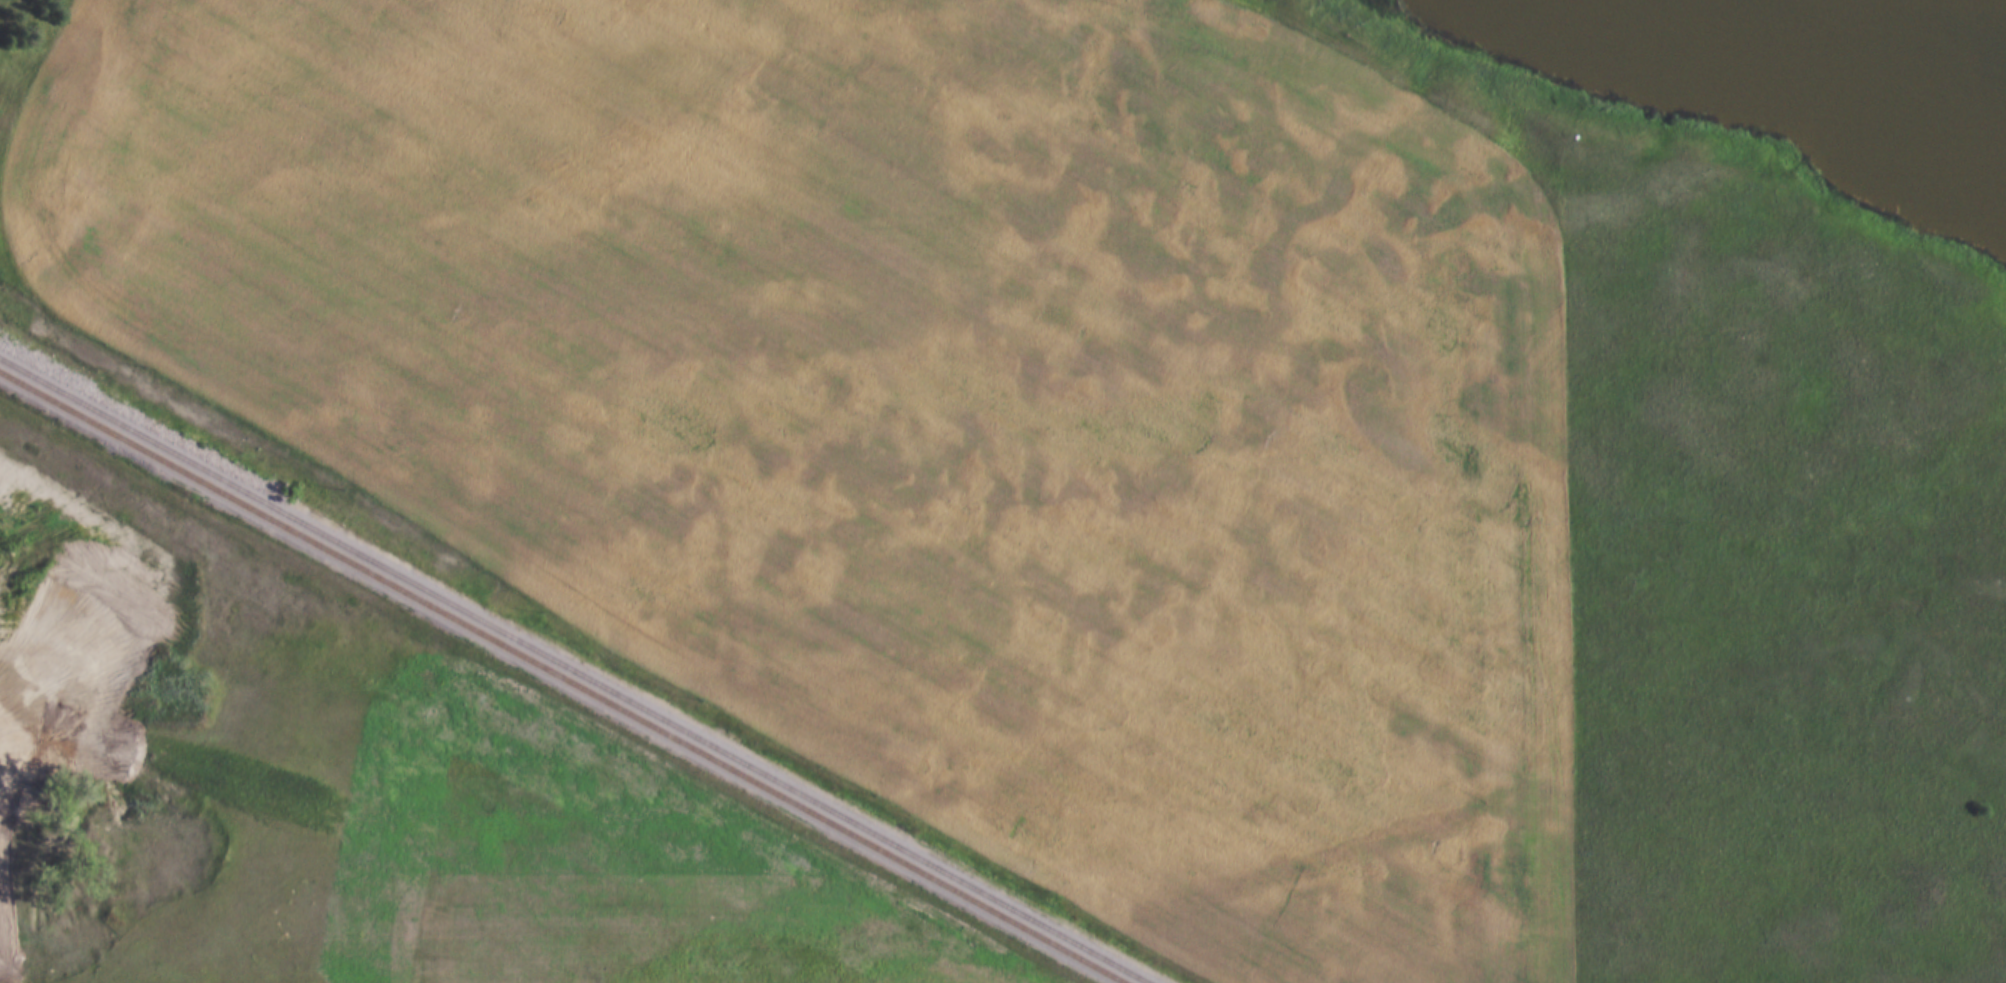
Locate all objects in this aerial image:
road: (1582, 554)
railway: (572, 671)
railway: (560, 678)

